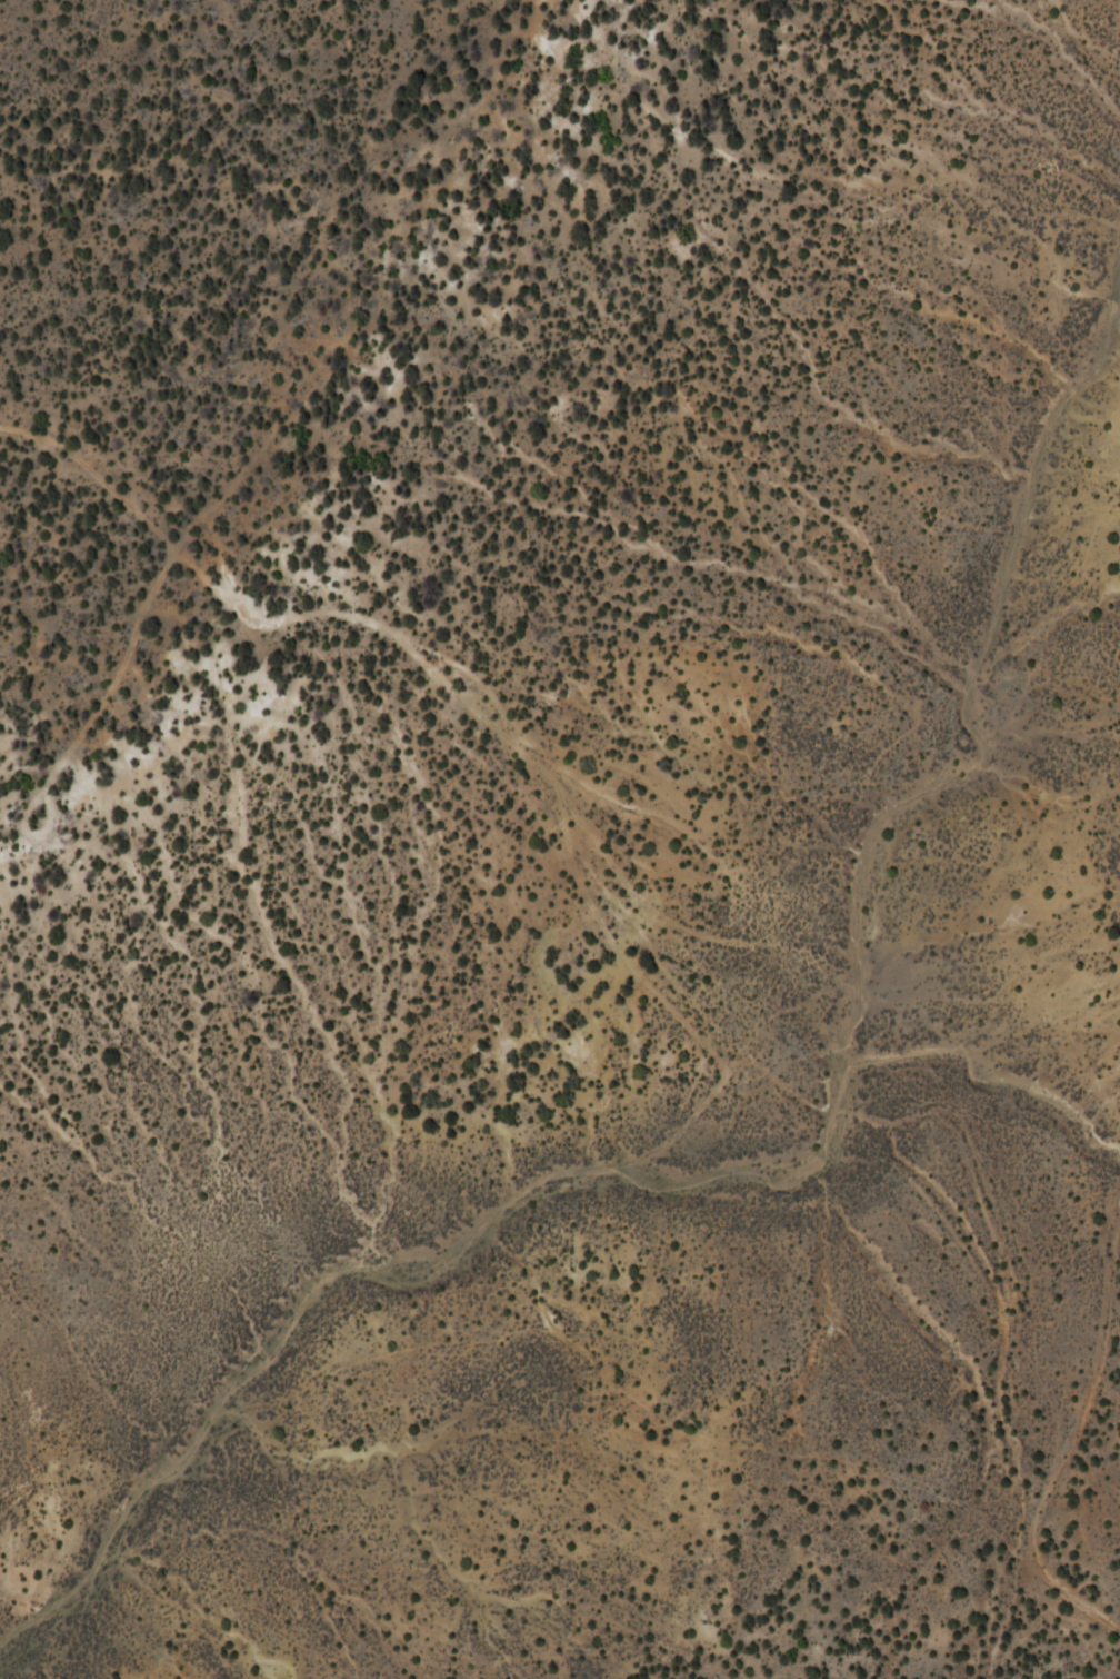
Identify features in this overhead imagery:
road: (414, 657)
road: (1057, 1463)

